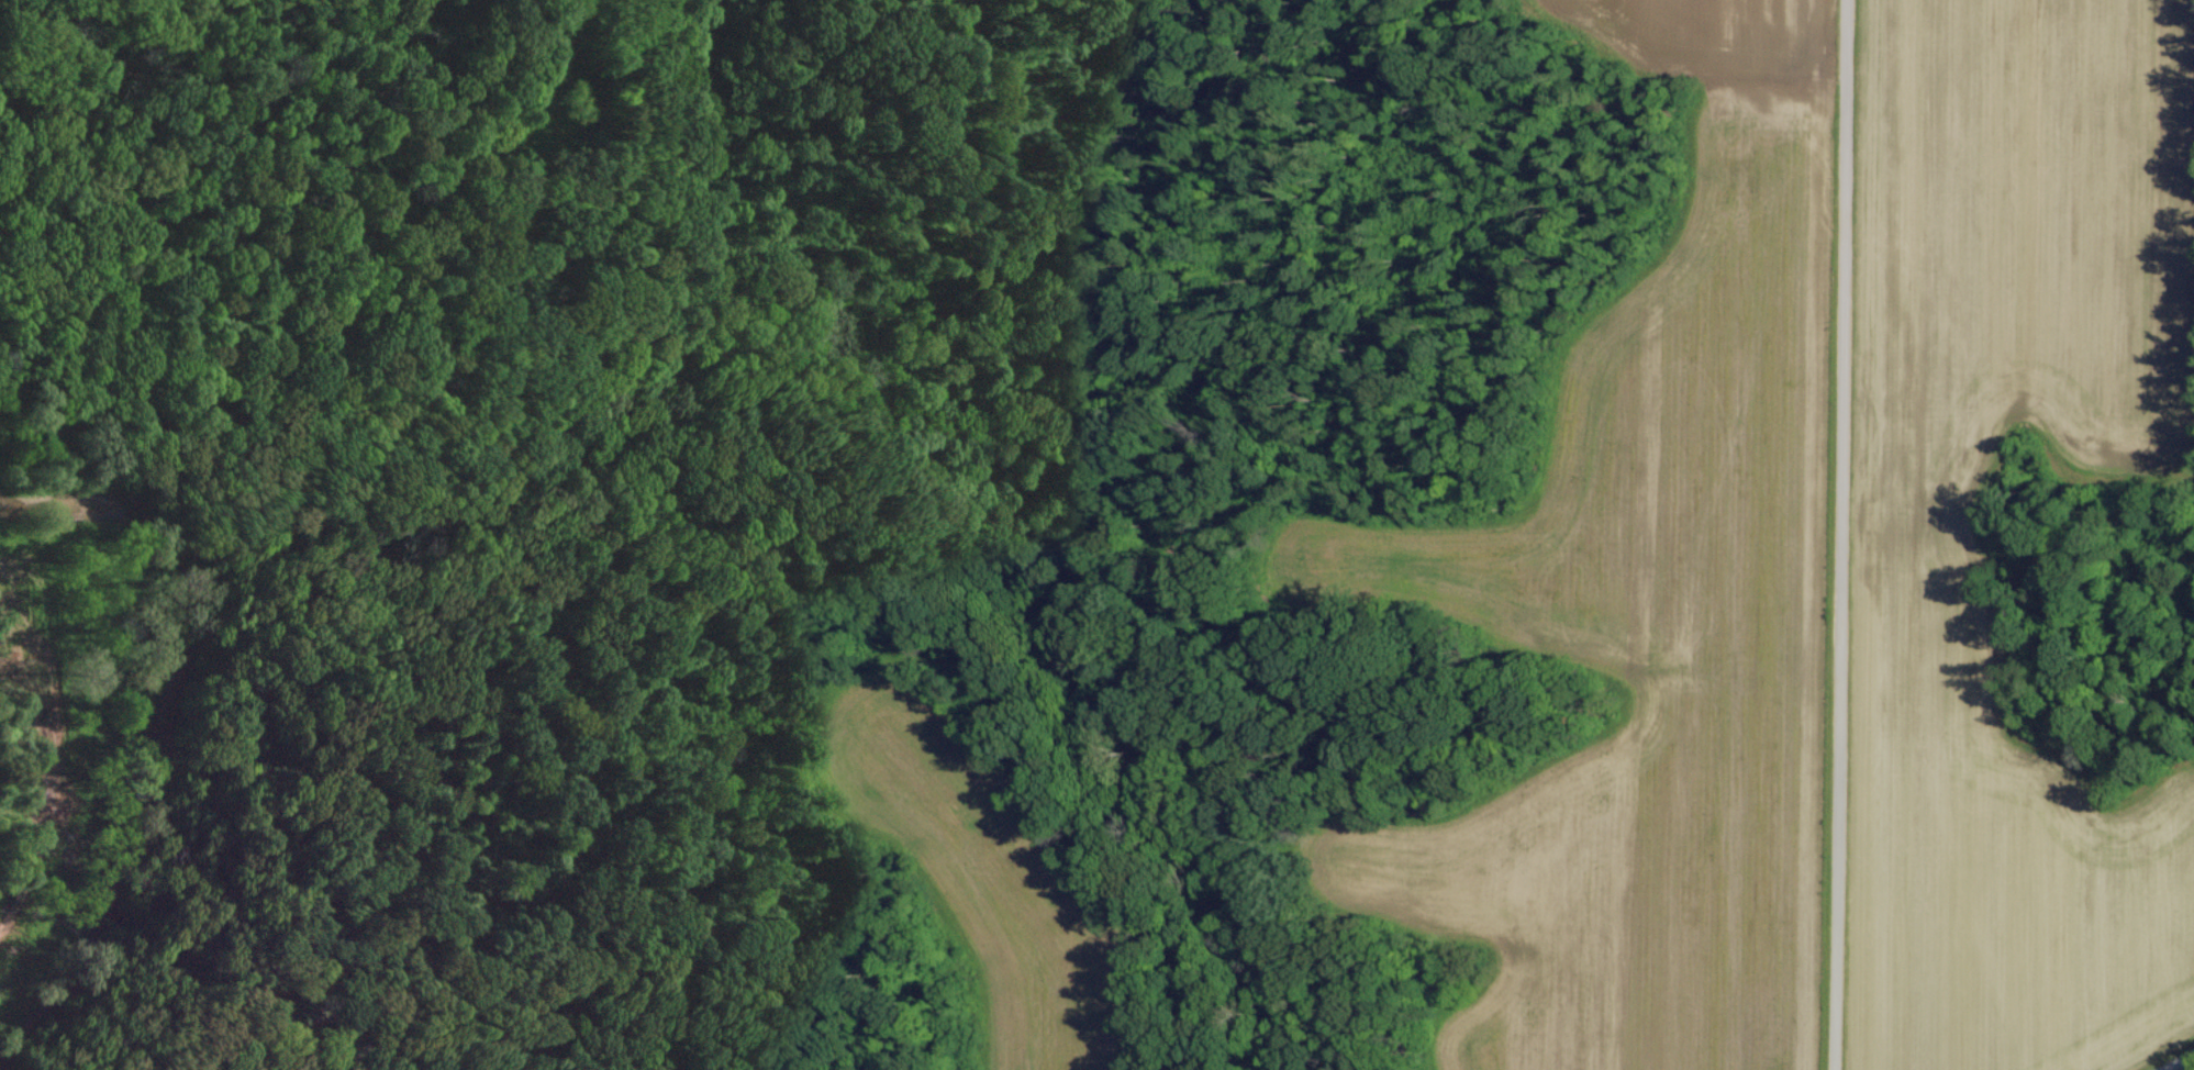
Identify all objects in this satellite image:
road: (1837, 535)
road: (2175, 1060)

